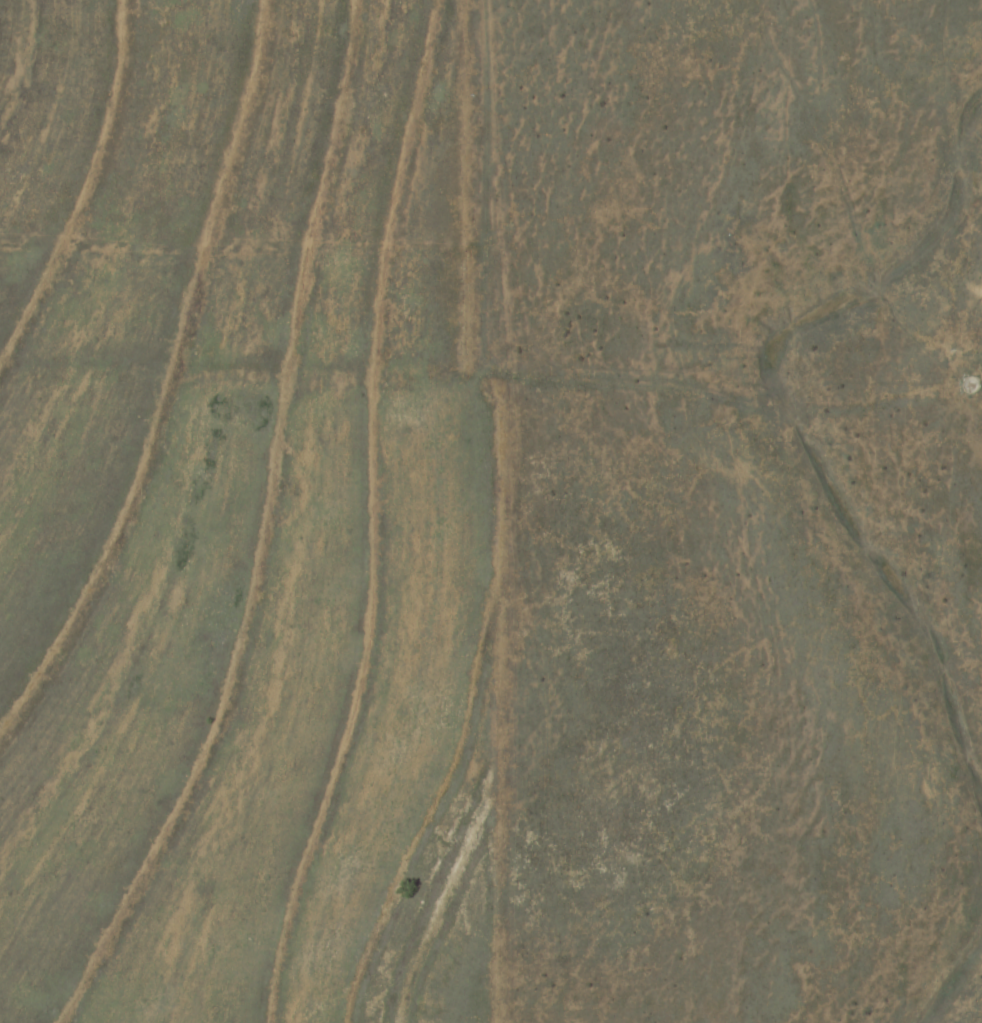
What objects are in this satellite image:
road: (628, 325)

